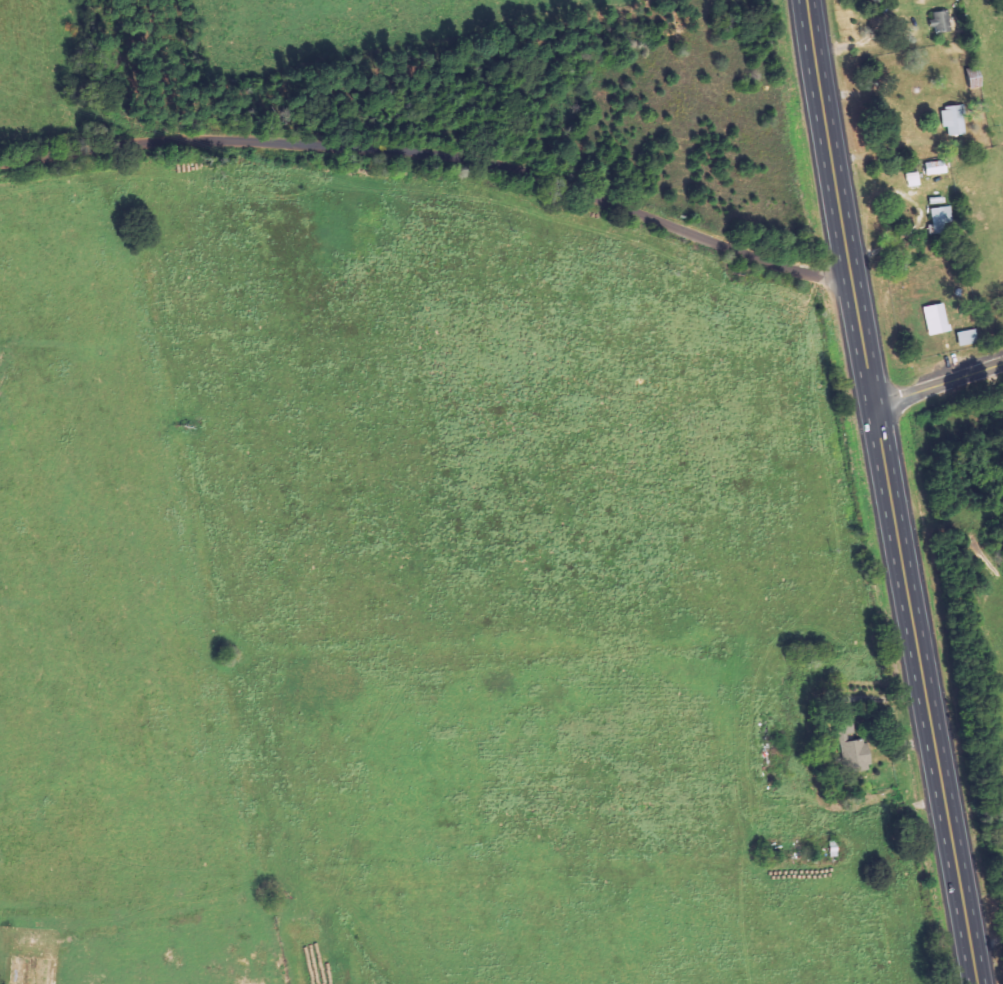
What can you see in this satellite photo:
building: (944, 21)
building: (957, 121)
road: (436, 156)
building: (938, 168)
building: (916, 179)
building: (944, 220)
building: (939, 319)
building: (970, 337)
road: (938, 385)
road: (890, 492)
building: (858, 755)

